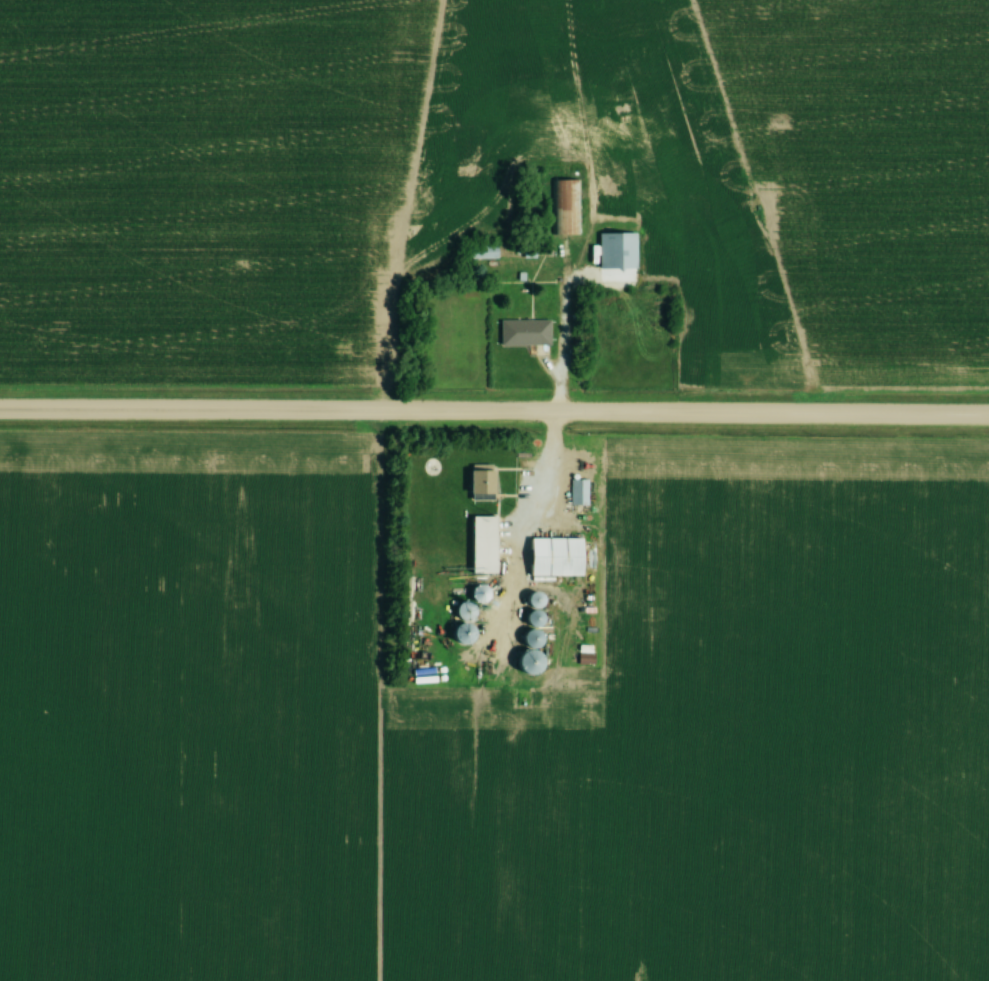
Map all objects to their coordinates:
building: (465, 148)
building: (564, 208)
building: (482, 251)
building: (616, 252)
building: (524, 333)
road: (494, 413)
road: (543, 469)
building: (481, 485)
building: (577, 493)
building: (482, 546)
building: (554, 558)
building: (478, 593)
building: (464, 611)
building: (529, 652)
building: (585, 660)
building: (489, 665)

